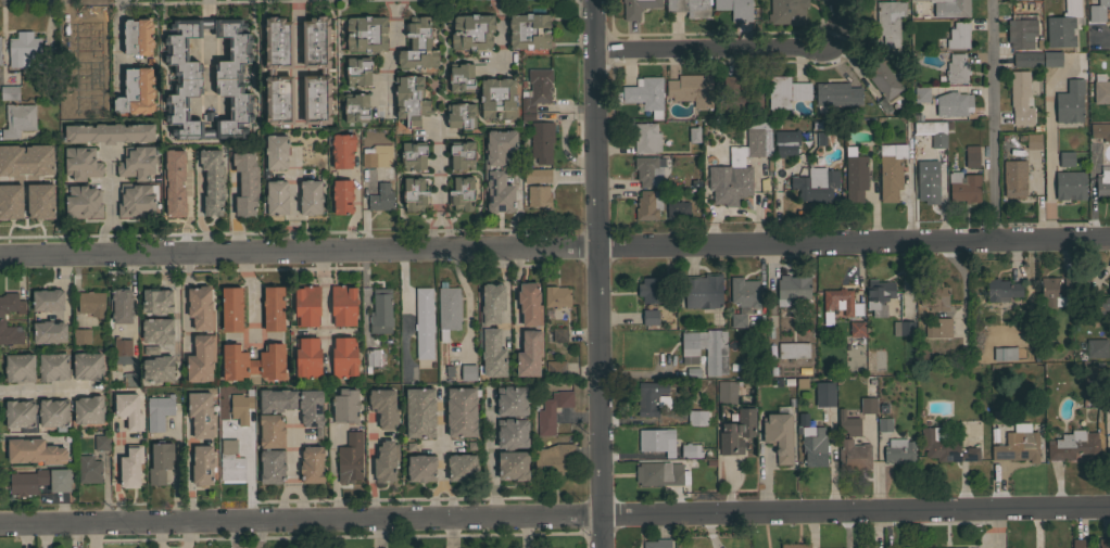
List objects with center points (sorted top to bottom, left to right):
building: (916, 0)
building: (1027, 0)
building: (636, 8)
building: (689, 8)
building: (735, 8)
building: (950, 8)
building: (1098, 10)
building: (787, 11)
building: (888, 21)
building: (1062, 25)
building: (529, 30)
building: (471, 31)
building: (1021, 33)
building: (366, 34)
building: (957, 36)
building: (138, 37)
road: (1102, 38)
building: (289, 44)
building: (418, 44)
road: (736, 46)
building: (23, 51)
road: (298, 55)
road: (390, 55)
building: (1027, 59)
building: (1051, 59)
building: (0, 60)
building: (957, 68)
building: (357, 71)
building: (270, 72)
building: (323, 72)
building: (461, 77)
building: (227, 78)
building: (883, 81)
building: (537, 89)
building: (691, 89)
building: (1101, 89)
building: (79, 91)
building: (136, 91)
building: (9, 93)
building: (736, 93)
building: (785, 93)
building: (836, 93)
building: (645, 94)
building: (921, 94)
building: (497, 99)
building: (411, 100)
building: (1019, 100)
building: (1070, 102)
building: (953, 103)
building: (355, 107)
building: (461, 115)
road: (995, 119)
building: (18, 123)
building: (1100, 130)
building: (929, 131)
building: (109, 132)
building: (694, 135)
building: (645, 138)
building: (542, 141)
building: (1030, 141)
building: (786, 142)
road: (1048, 149)
building: (276, 151)
building: (342, 151)
building: (413, 155)
building: (462, 155)
building: (970, 156)
building: (20, 157)
building: (375, 157)
building: (1064, 158)
building: (81, 163)
building: (138, 163)
road: (438, 163)
building: (167, 165)
building: (736, 167)
building: (497, 170)
building: (648, 170)
building: (890, 170)
building: (537, 175)
building: (855, 175)
building: (925, 176)
building: (212, 179)
building: (1012, 179)
building: (245, 181)
building: (1101, 183)
road: (108, 184)
building: (202, 184)
building: (816, 184)
building: (1069, 187)
building: (962, 188)
building: (462, 193)
building: (415, 194)
building: (538, 195)
building: (311, 196)
building: (342, 196)
building: (181, 197)
building: (276, 197)
building: (382, 197)
building: (136, 200)
building: (30, 202)
building: (83, 202)
building: (648, 204)
building: (678, 209)
building: (20, 213)
road: (431, 229)
road: (446, 229)
road: (99, 237)
road: (117, 237)
road: (555, 248)
road: (600, 273)
building: (792, 289)
building: (649, 290)
building: (1005, 290)
building: (702, 291)
building: (1052, 292)
building: (878, 295)
building: (556, 296)
building: (934, 296)
building: (742, 298)
building: (48, 300)
building: (156, 301)
building: (91, 303)
building: (343, 304)
building: (529, 304)
building: (840, 304)
building: (1097, 304)
building: (306, 305)
building: (122, 306)
building: (201, 307)
building: (273, 308)
road: (324, 308)
building: (231, 309)
building: (447, 309)
road: (174, 310)
building: (380, 313)
building: (1, 316)
building: (649, 317)
building: (424, 322)
building: (856, 328)
building: (937, 328)
building: (906, 329)
building: (157, 330)
building: (491, 330)
building: (49, 331)
building: (559, 334)
building: (81, 337)
building: (1096, 347)
building: (706, 349)
building: (793, 349)
building: (122, 352)
building: (529, 353)
building: (1002, 355)
building: (343, 357)
building: (373, 357)
building: (201, 358)
building: (306, 358)
building: (879, 359)
building: (253, 361)
building: (20, 367)
building: (52, 367)
building: (157, 368)
building: (555, 369)
building: (449, 370)
building: (468, 372)
building: (129, 379)
building: (447, 379)
road: (43, 387)
building: (727, 392)
building: (824, 393)
building: (1092, 393)
building: (652, 398)
building: (295, 405)
building: (867, 405)
building: (241, 406)
building: (345, 406)
building: (383, 406)
building: (88, 409)
building: (128, 410)
building: (550, 410)
building: (159, 411)
building: (419, 411)
building: (461, 411)
building: (20, 413)
building: (201, 415)
building: (695, 418)
building: (847, 423)
building: (884, 423)
building: (272, 431)
building: (736, 431)
building: (512, 432)
building: (778, 436)
building: (657, 439)
building: (101, 442)
building: (811, 443)
building: (1109, 443)
building: (1018, 444)
building: (1072, 445)
building: (945, 446)
road: (291, 449)
building: (690, 450)
building: (899, 450)
building: (34, 451)
road: (489, 454)
building: (854, 455)
road: (441, 456)
building: (350, 457)
building: (553, 458)
building: (160, 461)
building: (386, 461)
building: (231, 462)
building: (203, 464)
building: (312, 464)
building: (130, 466)
building: (272, 466)
building: (193, 467)
building: (462, 467)
building: (421, 468)
building: (89, 469)
road: (188, 471)
building: (660, 474)
building: (39, 481)
road: (290, 483)
road: (554, 517)
road: (998, 530)
road: (1036, 530)
road: (451, 533)
road: (311, 534)
road: (377, 534)
road: (94, 536)
road: (182, 536)
road: (232, 536)
road: (257, 536)
building: (1081, 543)
building: (1103, 543)
building: (657, 544)
building: (795, 545)
building: (956, 547)

